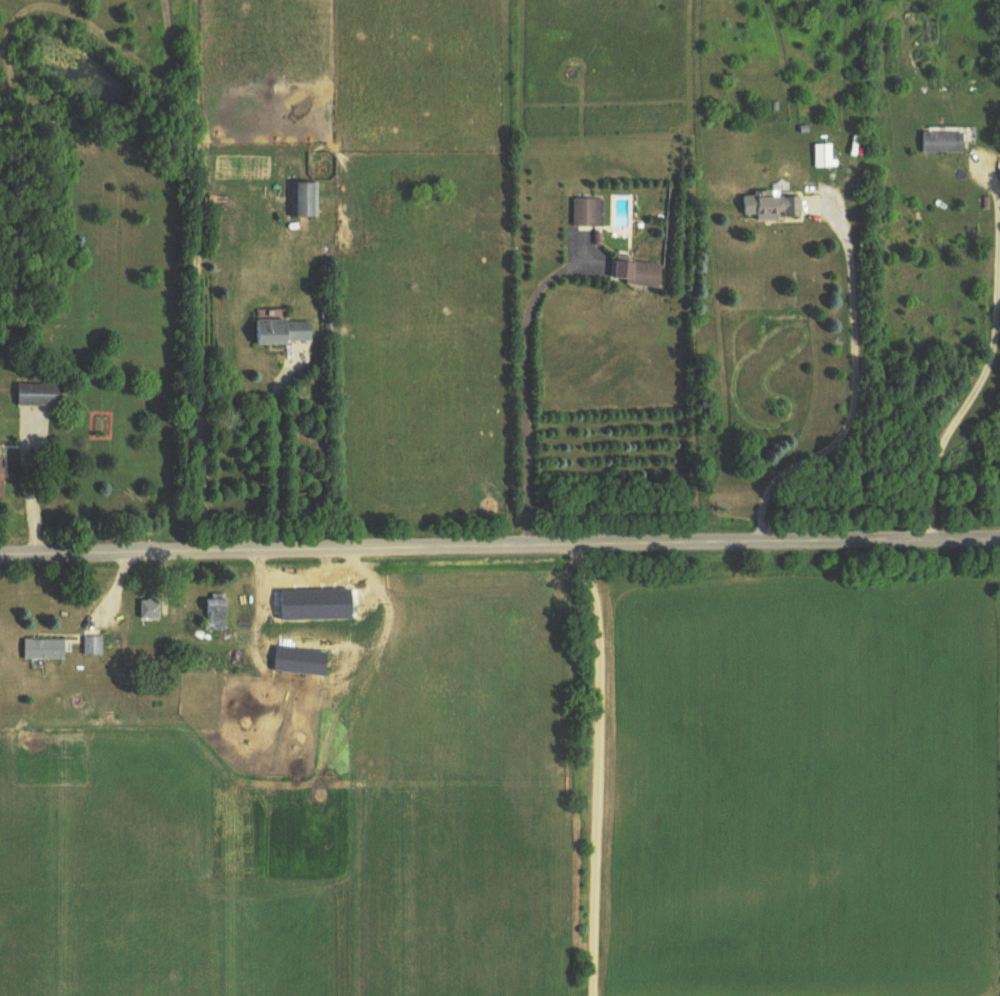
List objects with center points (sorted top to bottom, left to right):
building: (942, 143)
building: (821, 157)
building: (305, 201)
building: (769, 208)
building: (588, 213)
building: (637, 274)
building: (283, 333)
road: (989, 359)
building: (38, 396)
road: (854, 397)
road: (525, 405)
road: (275, 454)
building: (2, 475)
road: (29, 485)
road: (499, 545)
building: (348, 603)
building: (150, 611)
building: (216, 614)
building: (44, 651)
road: (597, 768)

